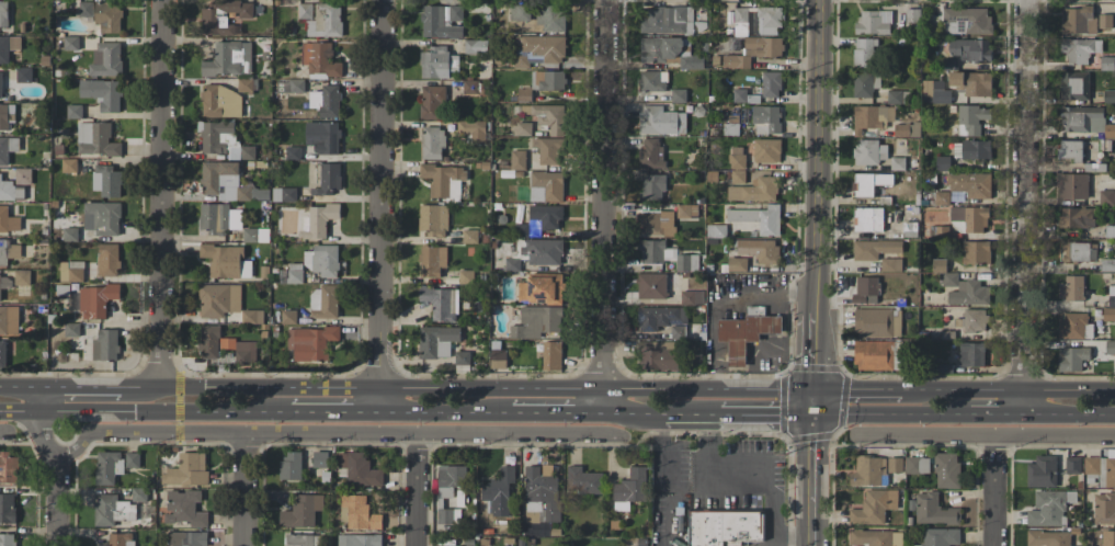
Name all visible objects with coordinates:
building: (86, 8)
building: (520, 12)
building: (3, 13)
building: (914, 15)
building: (107, 16)
building: (223, 16)
building: (551, 18)
building: (321, 19)
building: (665, 20)
building: (769, 20)
building: (442, 21)
building: (740, 21)
building: (967, 21)
building: (1078, 21)
building: (1104, 21)
building: (873, 22)
building: (71, 42)
building: (475, 45)
building: (8, 47)
building: (763, 47)
building: (970, 49)
building: (1079, 49)
building: (538, 50)
building: (669, 53)
building: (864, 53)
building: (106, 59)
building: (229, 59)
building: (320, 60)
building: (736, 61)
building: (437, 62)
building: (1107, 62)
building: (24, 75)
building: (548, 80)
building: (652, 81)
building: (971, 83)
building: (1, 84)
building: (244, 84)
building: (771, 84)
building: (863, 84)
building: (291, 86)
building: (1074, 86)
building: (934, 92)
building: (102, 93)
building: (739, 95)
building: (897, 96)
building: (1108, 96)
building: (326, 101)
building: (221, 102)
building: (432, 102)
building: (73, 111)
building: (7, 116)
building: (549, 117)
building: (871, 117)
building: (971, 118)
building: (765, 120)
building: (661, 121)
building: (1085, 121)
building: (523, 128)
building: (730, 128)
building: (473, 129)
building: (907, 129)
building: (216, 136)
building: (323, 137)
building: (95, 139)
building: (432, 143)
building: (8, 148)
building: (548, 149)
building: (971, 149)
building: (766, 150)
building: (1070, 150)
building: (293, 152)
building: (650, 152)
building: (869, 152)
building: (737, 158)
building: (517, 160)
building: (942, 162)
building: (69, 166)
building: (22, 175)
building: (738, 177)
building: (328, 179)
building: (223, 180)
building: (443, 180)
building: (106, 181)
building: (869, 183)
building: (549, 184)
building: (970, 184)
building: (1072, 185)
building: (652, 187)
building: (754, 190)
building: (10, 191)
road: (161, 193)
building: (284, 194)
road: (380, 194)
building: (536, 194)
road: (815, 195)
building: (941, 197)
building: (1107, 197)
road: (604, 206)
road: (1022, 206)
building: (687, 211)
building: (546, 216)
building: (1076, 217)
building: (102, 218)
building: (218, 218)
building: (759, 218)
building: (433, 219)
building: (868, 219)
building: (968, 219)
building: (9, 220)
building: (318, 220)
building: (657, 223)
building: (534, 227)
building: (716, 230)
building: (70, 234)
building: (255, 235)
building: (470, 236)
building: (874, 249)
building: (759, 250)
building: (3, 251)
building: (543, 251)
building: (655, 251)
building: (1079, 251)
building: (976, 252)
building: (107, 260)
building: (322, 260)
building: (226, 261)
building: (432, 261)
building: (687, 262)
building: (512, 264)
building: (737, 264)
building: (890, 264)
building: (71, 271)
building: (294, 274)
building: (22, 276)
building: (466, 276)
building: (5, 283)
building: (651, 285)
building: (1071, 288)
building: (541, 289)
building: (866, 291)
building: (966, 291)
building: (1111, 295)
building: (692, 297)
building: (218, 299)
building: (96, 300)
building: (323, 302)
building: (441, 303)
building: (1108, 314)
building: (252, 316)
building: (288, 317)
building: (9, 320)
building: (662, 320)
building: (975, 320)
building: (537, 321)
building: (877, 322)
building: (1074, 326)
building: (71, 329)
building: (746, 334)
building: (437, 341)
building: (310, 342)
building: (105, 345)
building: (225, 345)
building: (2, 353)
building: (971, 354)
building: (551, 355)
building: (659, 355)
building: (878, 355)
building: (498, 359)
building: (1072, 359)
road: (20, 386)
road: (80, 386)
road: (250, 387)
road: (596, 388)
road: (1008, 389)
traffic signals: (814, 390)
road: (857, 390)
road: (379, 400)
road: (814, 402)
road: (145, 410)
road: (334, 412)
road: (445, 412)
road: (557, 413)
road: (634, 413)
road: (689, 413)
road: (995, 413)
road: (1068, 413)
road: (763, 414)
traffic signals: (814, 414)
road: (891, 414)
road: (3, 432)
road: (327, 434)
road: (985, 435)
building: (132, 459)
building: (320, 459)
road: (55, 462)
road: (664, 465)
building: (895, 465)
building: (917, 465)
building: (1072, 465)
building: (291, 466)
building: (107, 467)
building: (8, 468)
building: (1102, 468)
building: (359, 469)
building: (947, 470)
road: (756, 471)
building: (869, 471)
building: (1042, 471)
building: (450, 479)
road: (812, 479)
building: (1091, 479)
building: (583, 481)
building: (630, 489)
road: (244, 490)
road: (416, 490)
road: (995, 490)
building: (499, 491)
building: (541, 497)
building: (874, 507)
building: (8, 508)
building: (184, 508)
building: (1047, 509)
building: (1104, 509)
building: (112, 510)
building: (934, 510)
building: (301, 511)
building: (360, 513)
building: (448, 515)
building: (725, 527)
road: (667, 531)
building: (875, 537)
building: (940, 537)
building: (1107, 537)
building: (189, 538)
building: (1048, 538)
building: (121, 539)
building: (301, 539)
building: (360, 539)
building: (8, 541)
building: (452, 545)

